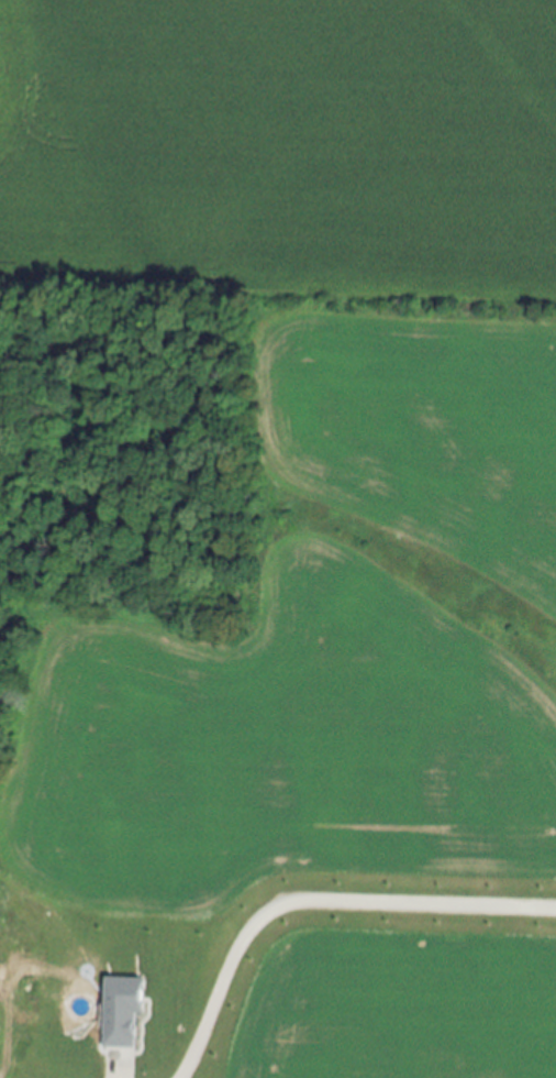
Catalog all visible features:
road: (314, 901)
building: (127, 1010)

